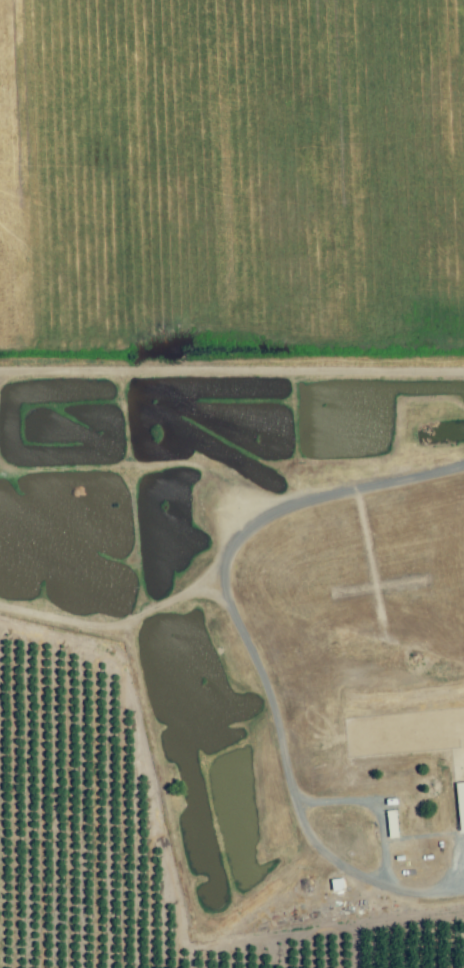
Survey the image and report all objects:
crop: (232, 187)
road: (250, 652)
building: (460, 804)
road: (372, 805)
building: (391, 823)
crop: (120, 832)

